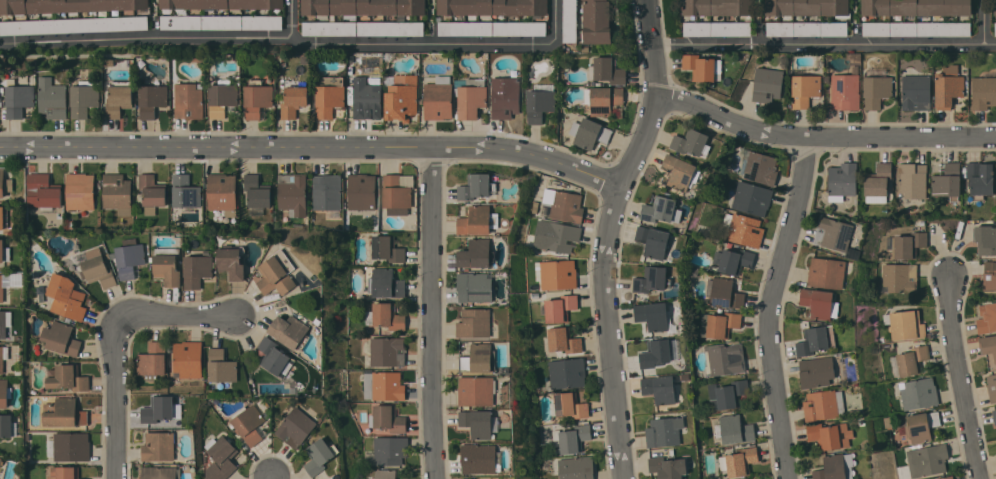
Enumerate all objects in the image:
building: (221, 4)
building: (67, 6)
building: (493, 7)
building: (717, 7)
building: (807, 7)
building: (917, 7)
building: (995, 7)
building: (361, 8)
road: (291, 20)
building: (570, 21)
building: (221, 22)
building: (596, 22)
road: (985, 23)
building: (73, 25)
building: (363, 28)
building: (492, 28)
building: (716, 28)
building: (917, 28)
building: (807, 29)
building: (995, 31)
road: (297, 40)
road: (825, 45)
building: (585, 48)
building: (703, 67)
building: (609, 71)
building: (767, 84)
building: (948, 89)
building: (805, 90)
building: (846, 91)
building: (876, 91)
building: (917, 92)
building: (983, 92)
building: (329, 95)
building: (505, 97)
building: (53, 98)
building: (84, 98)
building: (119, 98)
building: (222, 98)
building: (257, 98)
building: (401, 98)
building: (438, 99)
building: (471, 99)
building: (19, 100)
building: (152, 100)
building: (189, 100)
building: (602, 100)
building: (293, 101)
building: (367, 101)
building: (539, 105)
building: (591, 134)
road: (823, 137)
building: (691, 142)
road: (314, 147)
building: (761, 168)
building: (680, 172)
building: (981, 177)
building: (843, 179)
building: (879, 180)
building: (913, 180)
building: (947, 181)
building: (2, 183)
building: (476, 186)
building: (80, 191)
building: (257, 191)
building: (361, 191)
building: (397, 191)
building: (43, 193)
building: (117, 193)
building: (152, 193)
building: (222, 193)
building: (292, 193)
building: (327, 193)
building: (185, 194)
building: (752, 198)
building: (564, 205)
building: (662, 210)
building: (396, 211)
building: (3, 217)
building: (478, 220)
building: (744, 229)
building: (833, 234)
road: (609, 235)
building: (560, 237)
building: (985, 240)
building: (653, 241)
building: (908, 245)
building: (387, 249)
building: (4, 252)
building: (477, 254)
building: (129, 257)
building: (232, 261)
building: (735, 261)
building: (167, 266)
building: (197, 269)
building: (98, 271)
building: (277, 273)
building: (826, 273)
building: (556, 274)
building: (989, 276)
building: (900, 278)
building: (652, 279)
building: (385, 284)
building: (475, 286)
building: (2, 288)
building: (725, 294)
building: (66, 297)
building: (820, 303)
road: (773, 307)
building: (560, 308)
road: (433, 313)
building: (653, 315)
building: (388, 316)
building: (986, 318)
building: (474, 323)
building: (3, 324)
building: (722, 324)
building: (906, 324)
building: (289, 330)
building: (61, 338)
road: (117, 340)
building: (563, 340)
building: (816, 340)
building: (988, 344)
building: (387, 351)
building: (656, 353)
building: (3, 356)
building: (273, 356)
building: (477, 358)
building: (188, 359)
building: (724, 359)
building: (152, 360)
building: (912, 360)
building: (221, 366)
building: (817, 372)
building: (567, 373)
building: (68, 378)
road: (962, 378)
building: (383, 386)
building: (992, 387)
building: (660, 388)
building: (476, 391)
building: (5, 393)
building: (918, 393)
building: (728, 394)
building: (570, 405)
building: (824, 405)
building: (158, 409)
building: (64, 413)
building: (994, 415)
building: (387, 418)
building: (248, 423)
building: (477, 423)
building: (6, 425)
building: (921, 426)
building: (296, 428)
building: (736, 429)
building: (664, 431)
building: (825, 435)
building: (572, 437)
building: (71, 446)
building: (159, 446)
building: (390, 450)
building: (320, 455)
building: (220, 458)
building: (480, 458)
building: (927, 460)
building: (738, 461)
building: (1, 462)
building: (668, 467)
building: (835, 467)
building: (578, 468)
building: (64, 472)
building: (902, 472)
building: (161, 473)
building: (385, 474)
road: (271, 476)
building: (946, 477)
building: (470, 478)

